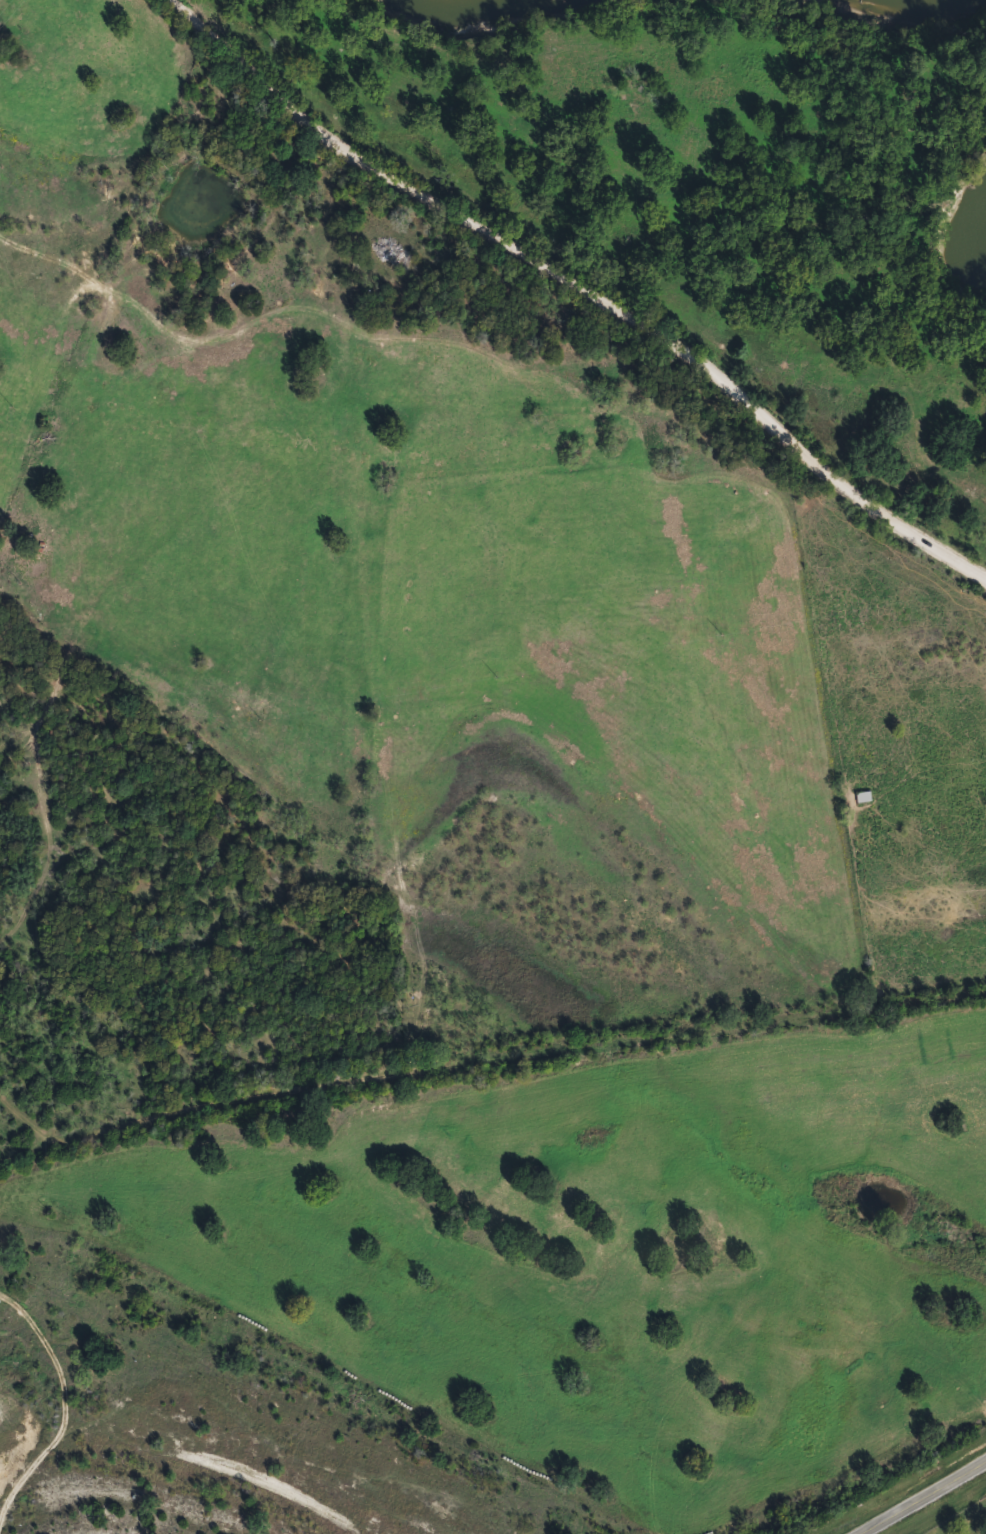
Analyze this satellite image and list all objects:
river: (484, 7)
river: (898, 13)
building: (390, 250)
road: (567, 291)
building: (866, 796)
road: (493, 1101)
road: (922, 1497)

